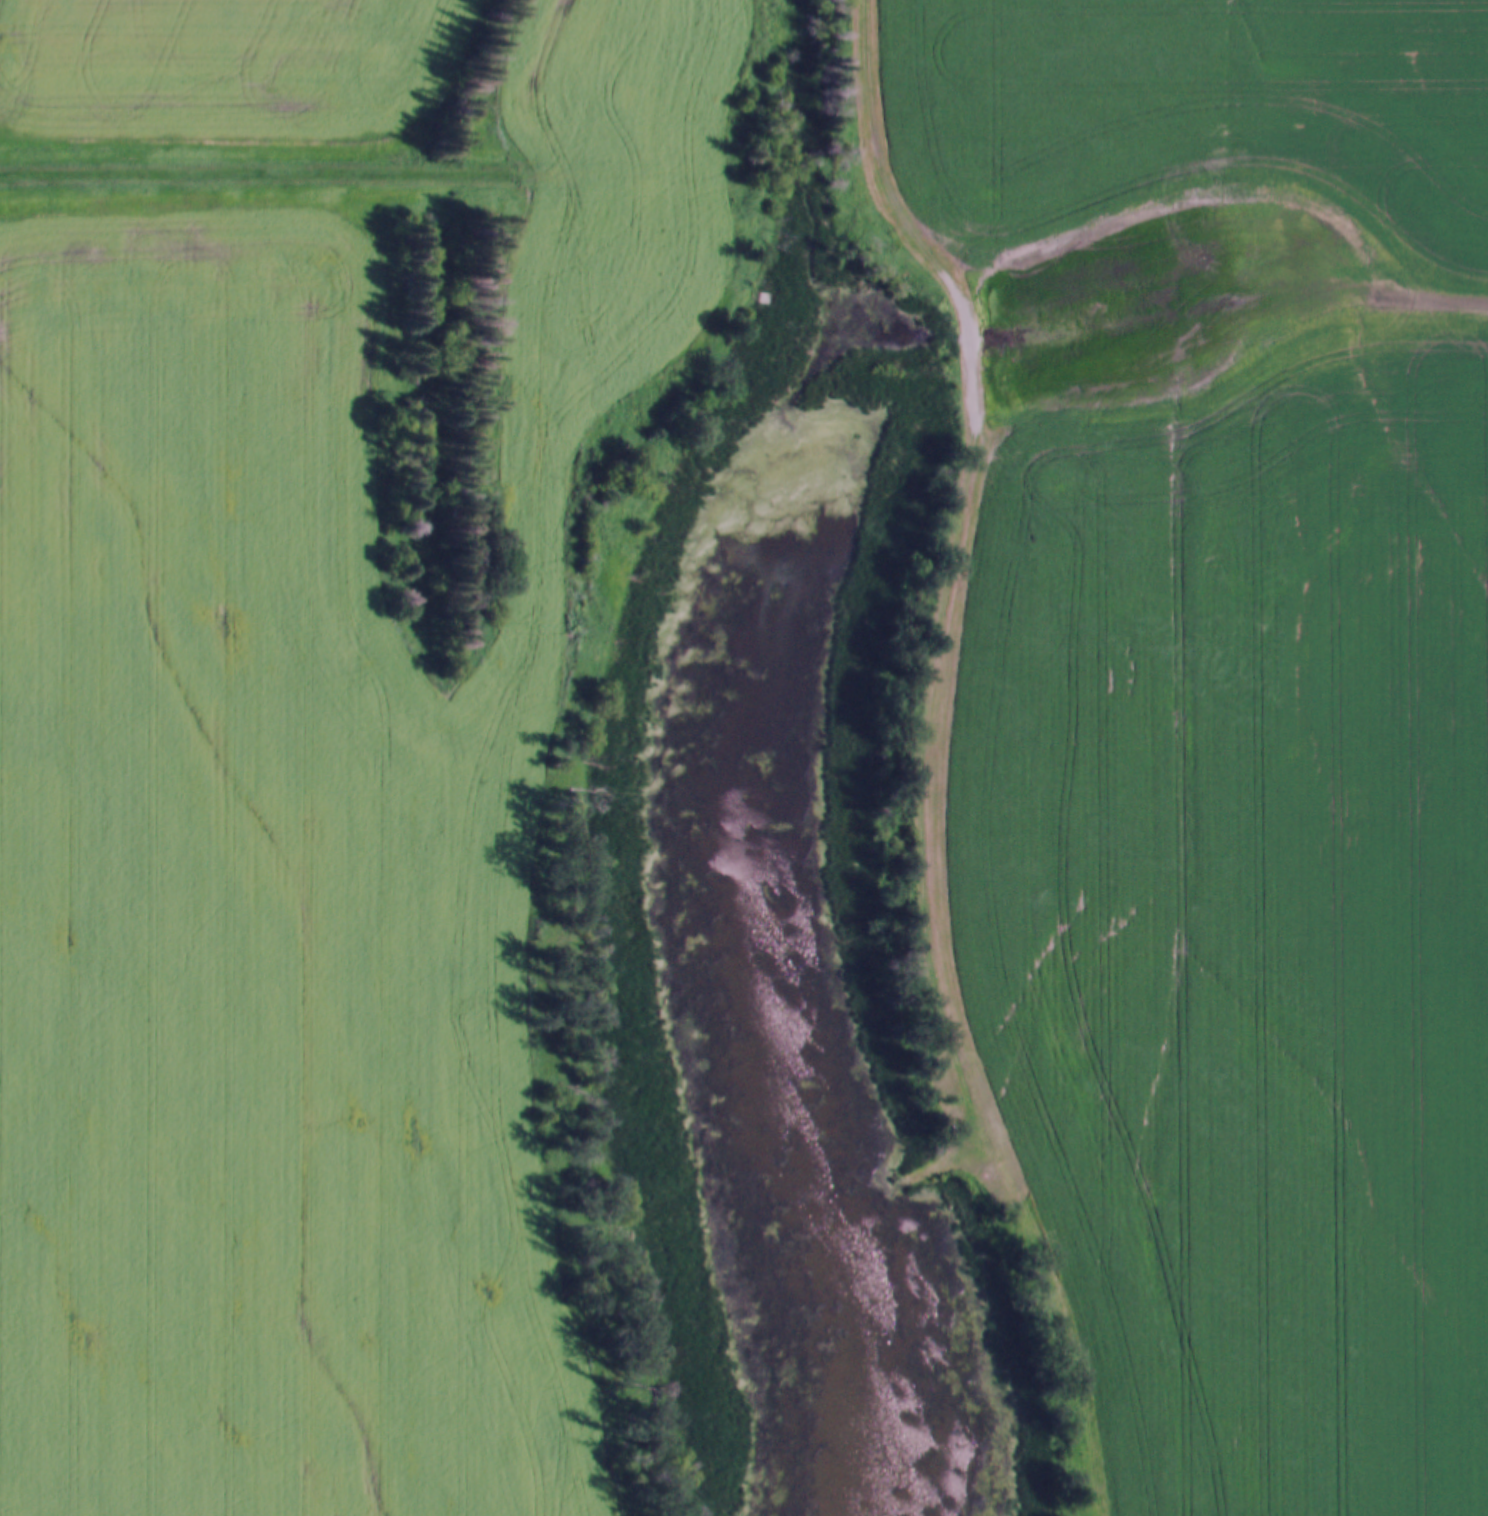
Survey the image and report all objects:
road: (1087, 749)

